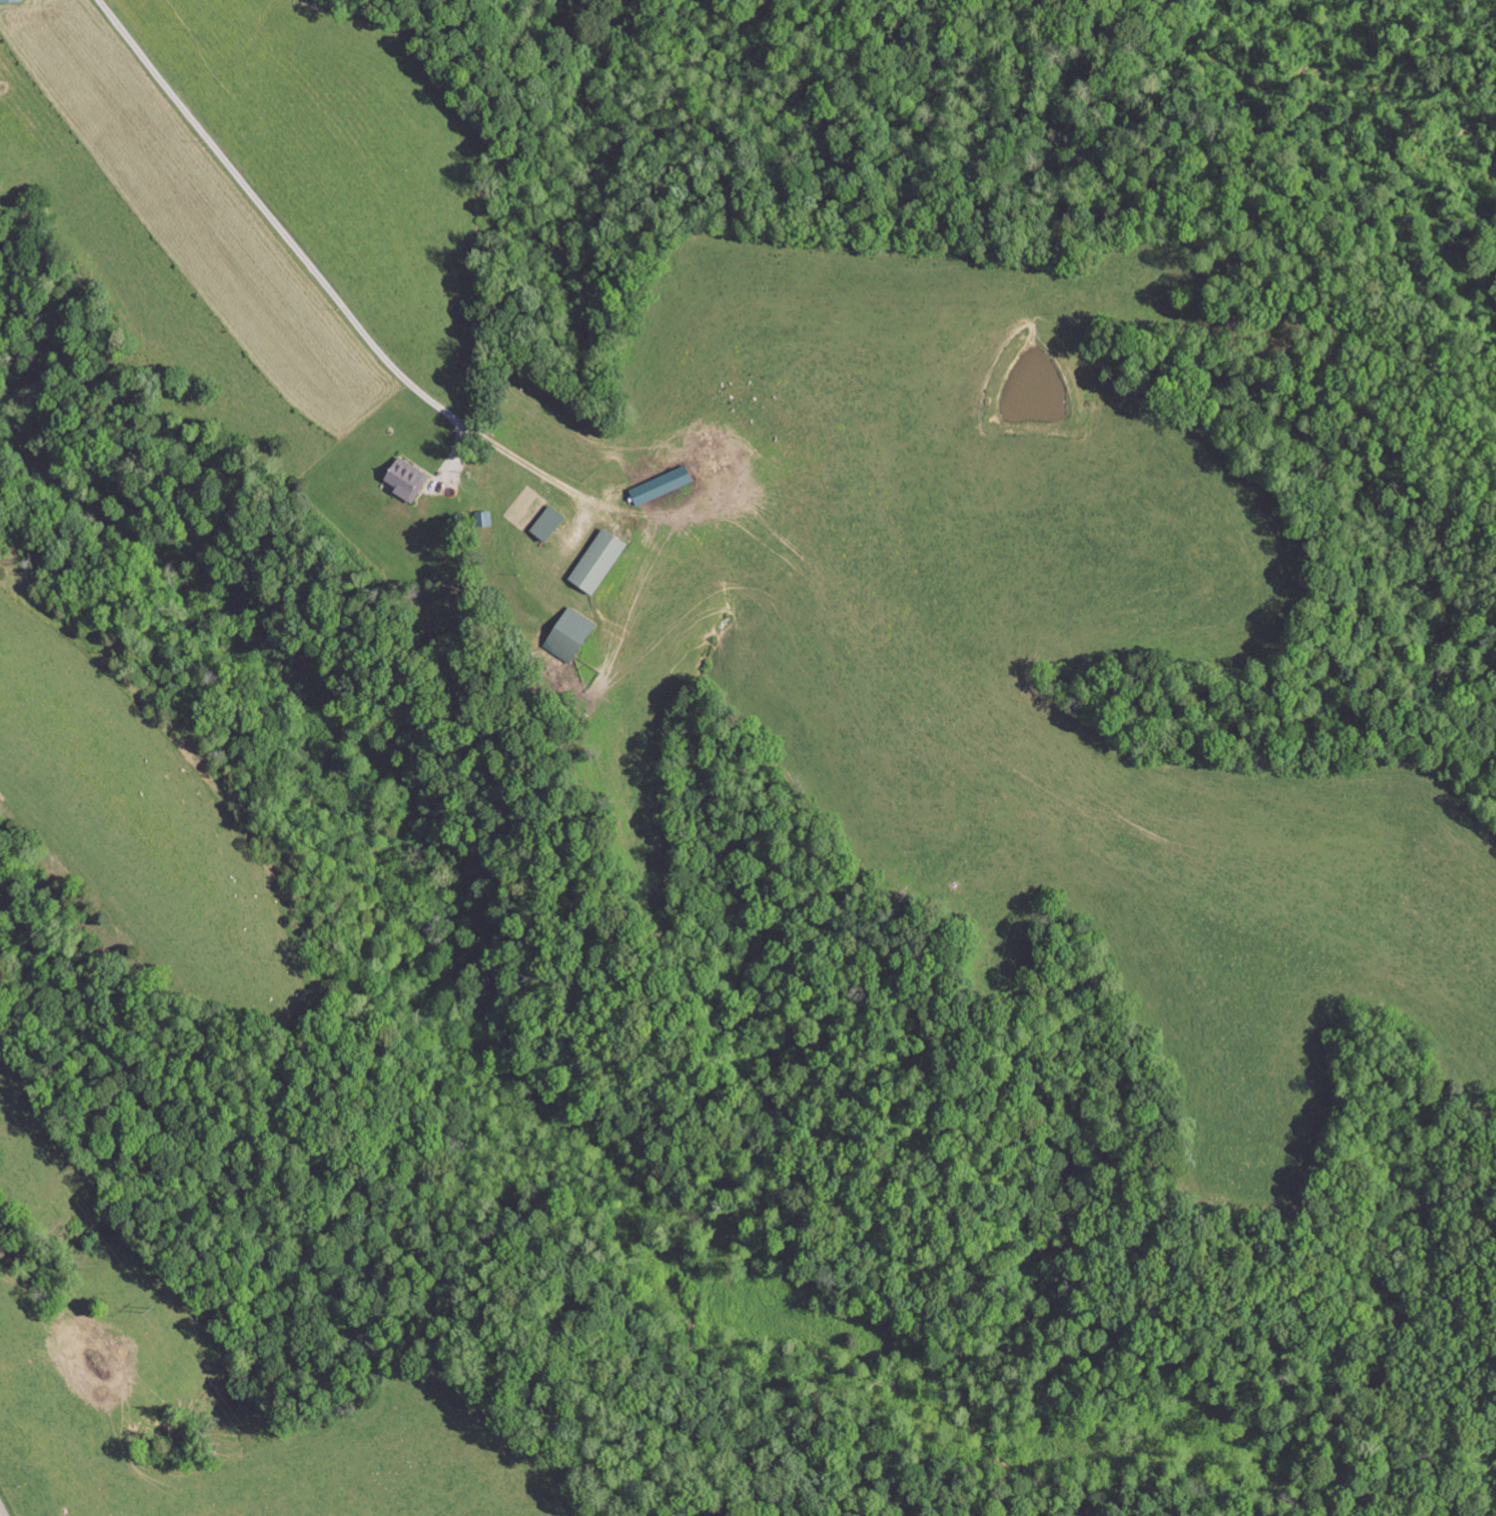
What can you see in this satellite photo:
building: (10, 0)
building: (409, 478)
building: (663, 485)
building: (550, 523)
building: (600, 561)
road: (1, 1513)

